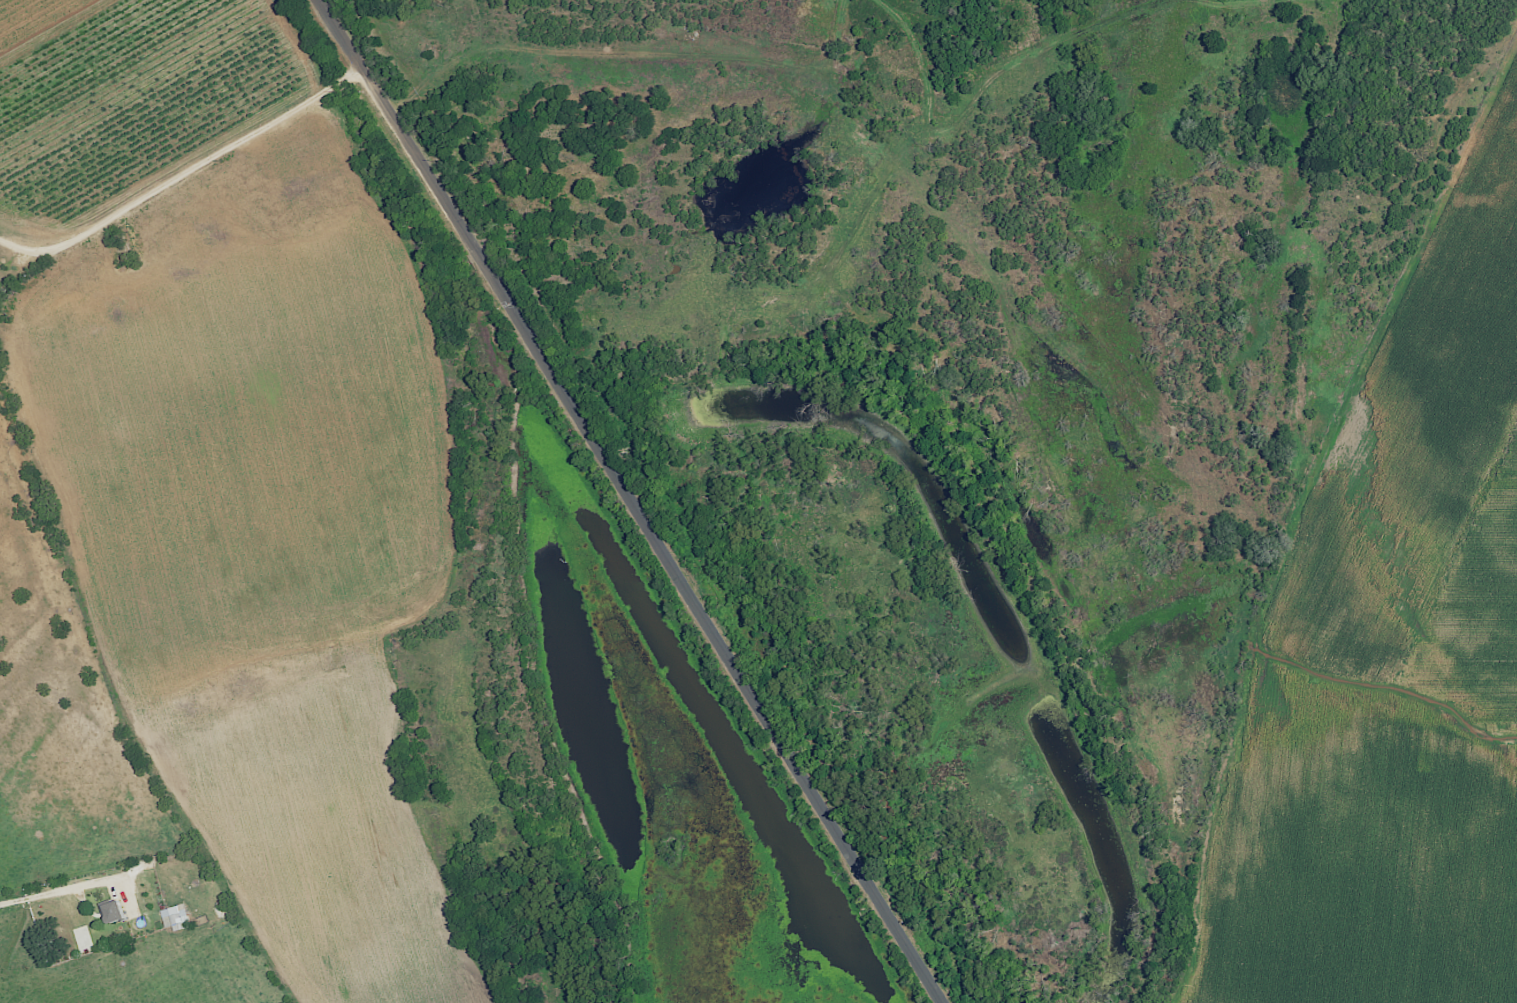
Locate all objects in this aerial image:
road: (185, 177)
road: (629, 501)
road: (61, 895)
building: (110, 910)

